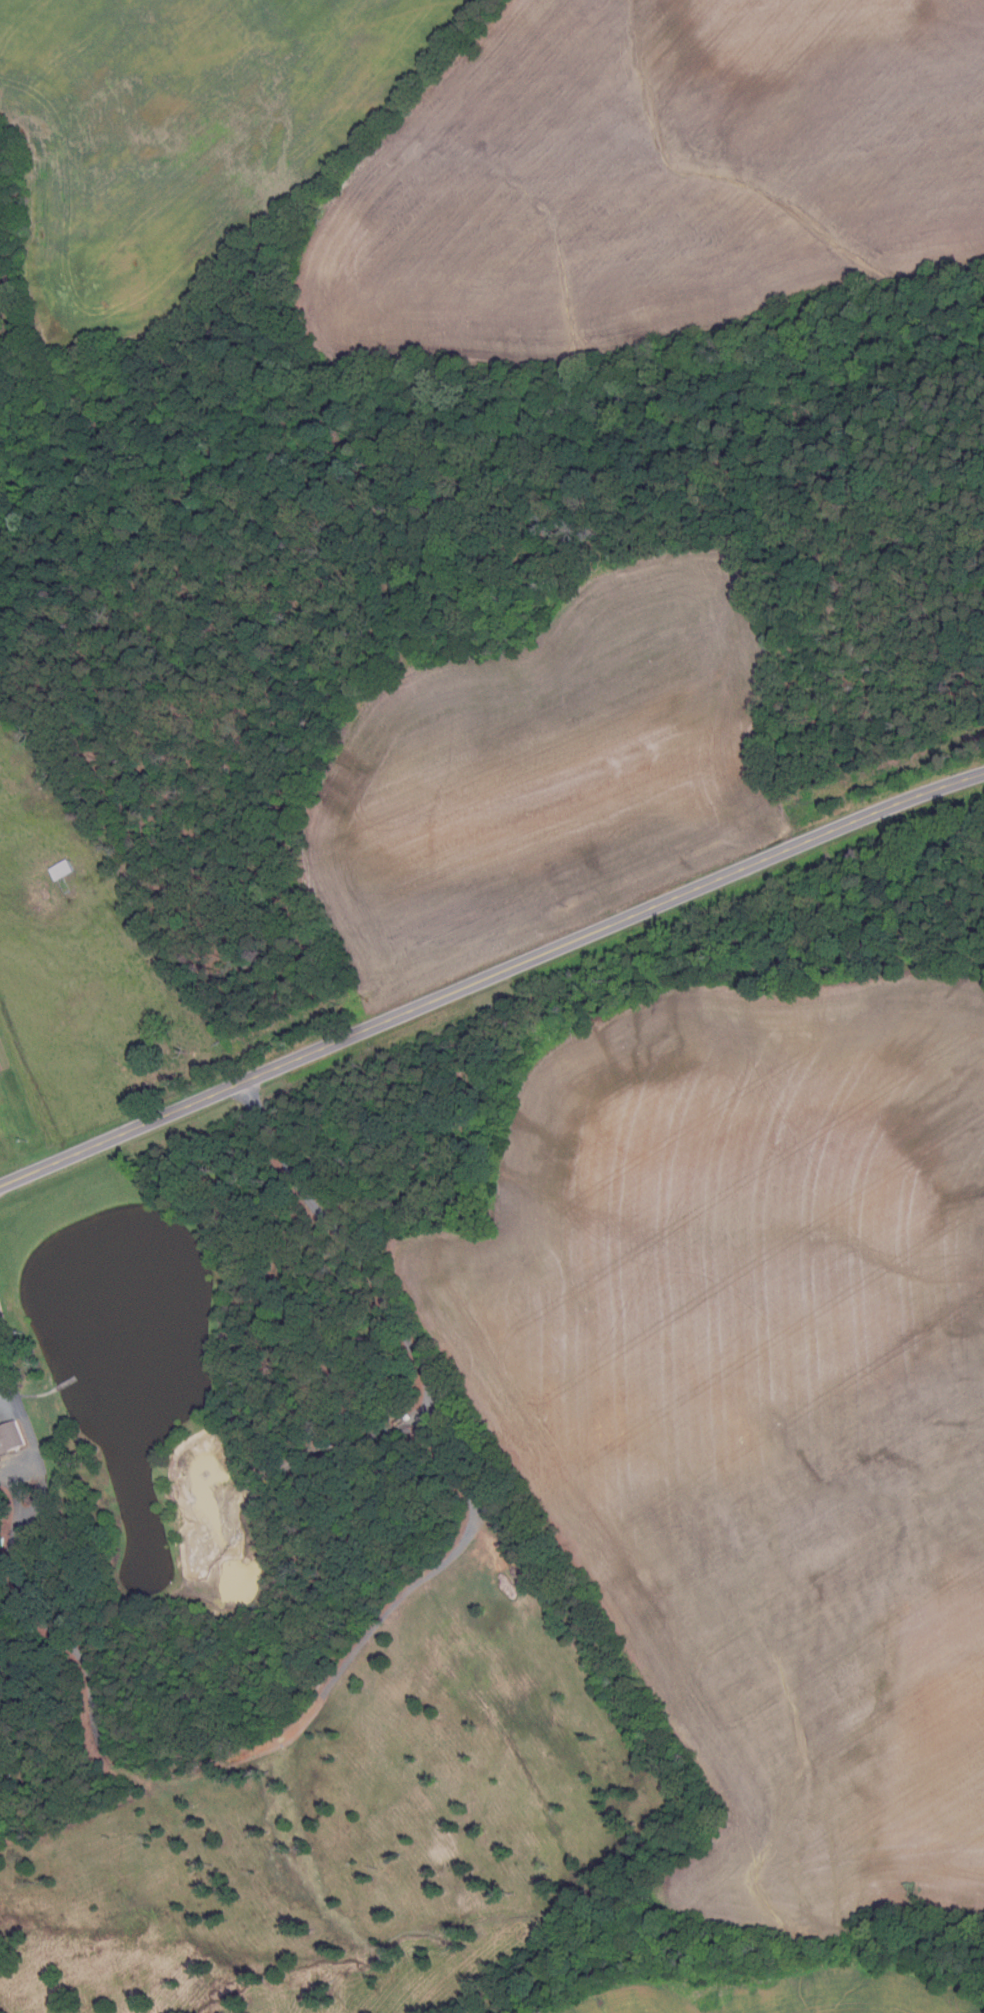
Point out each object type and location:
crop: (183, 134)
crop: (650, 176)
crop: (548, 774)
building: (63, 869)
road: (490, 975)
road: (7, 1351)
crop: (762, 1409)
building: (11, 1437)
road: (377, 1620)
crop: (788, 1993)

